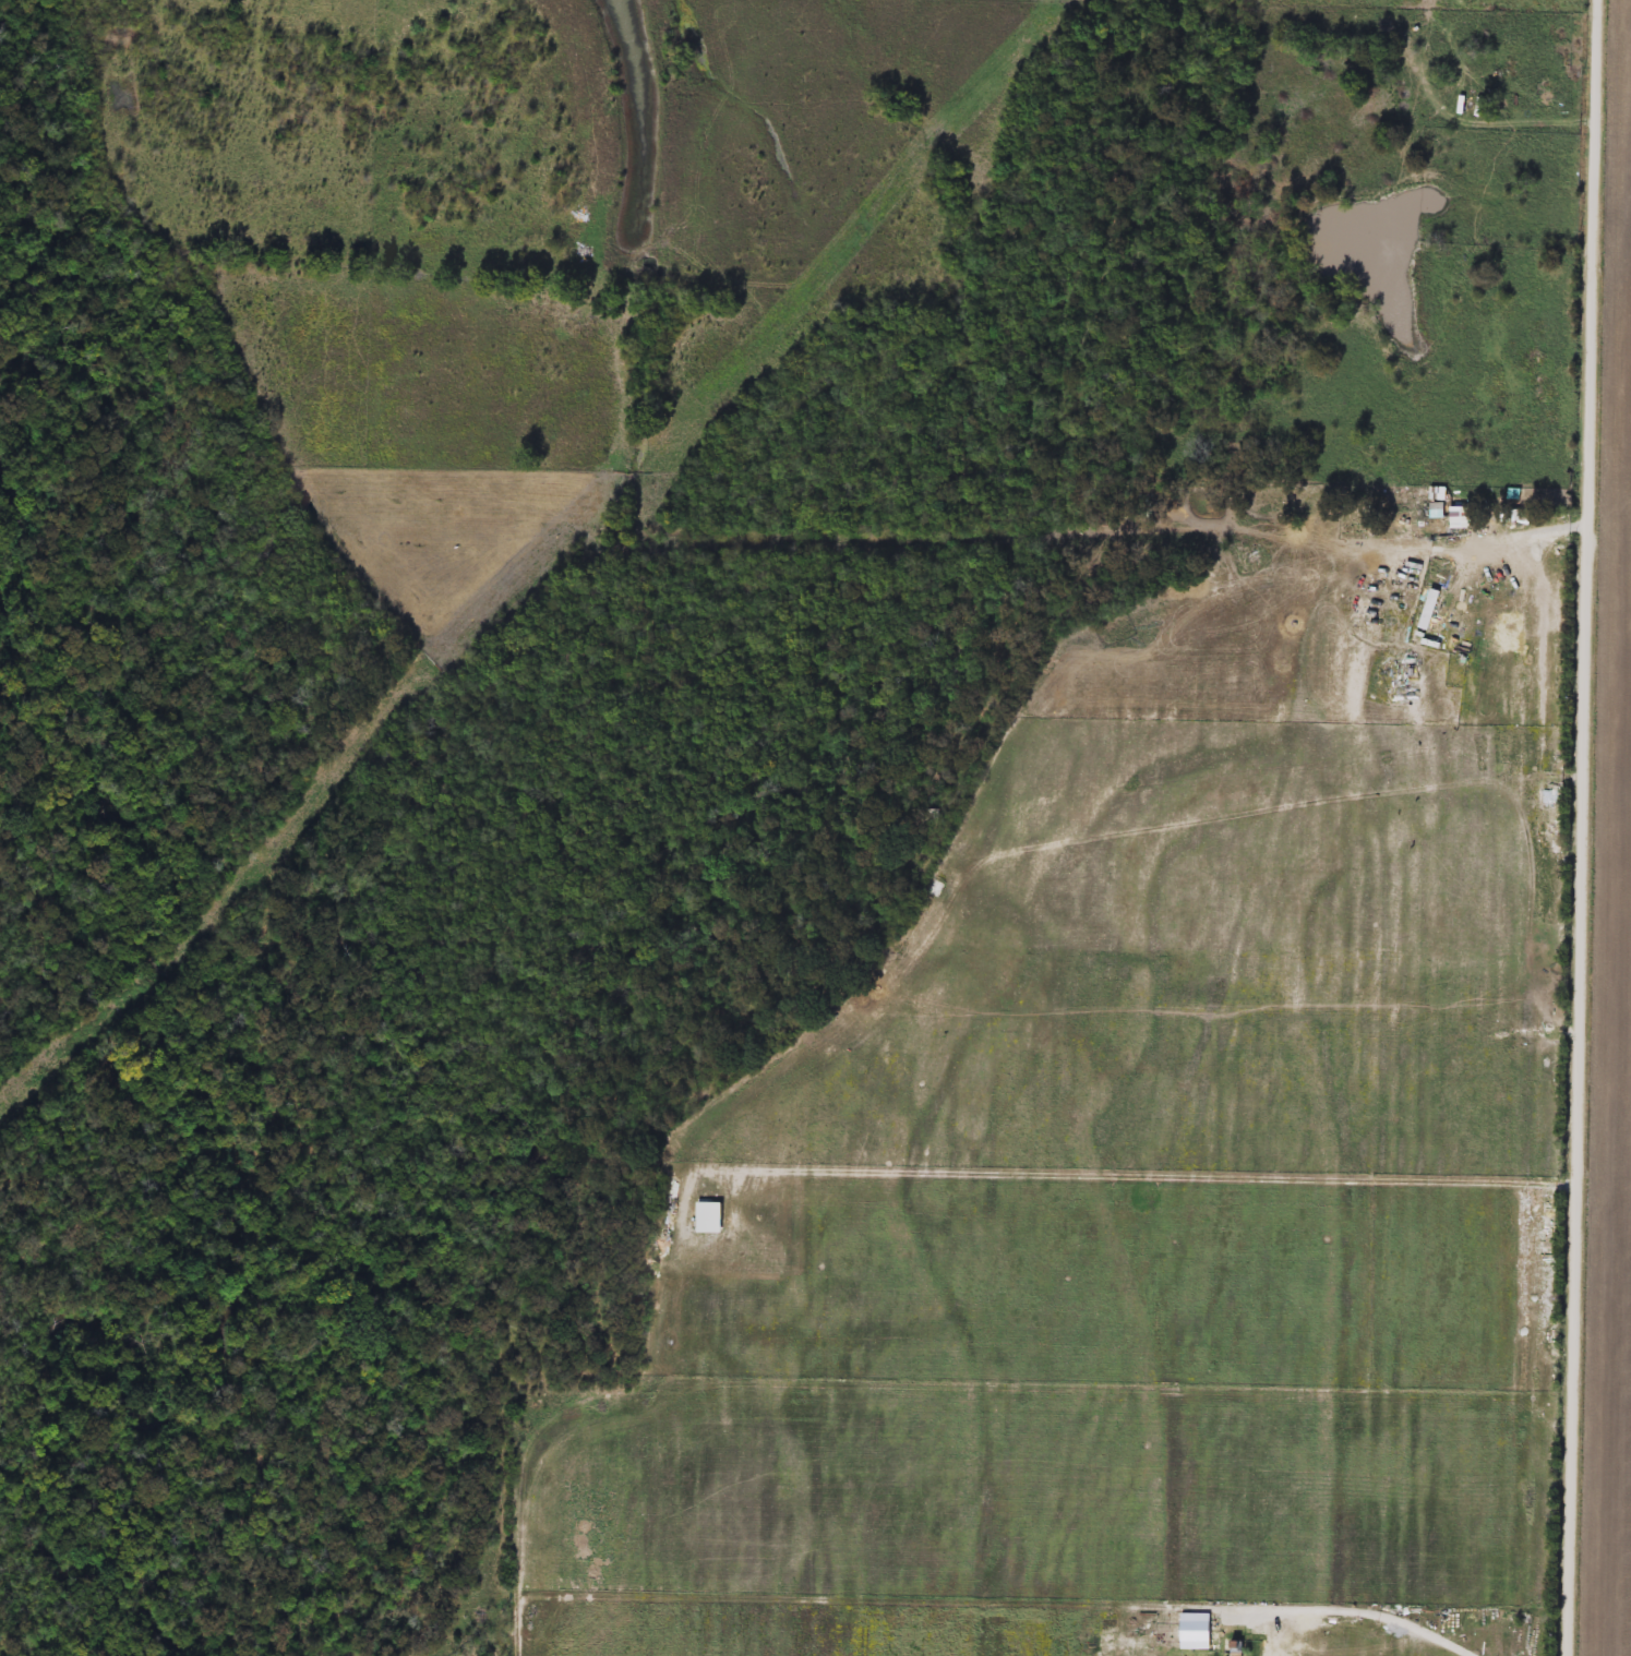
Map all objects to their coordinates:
road: (1576, 828)
road: (1358, 1613)

